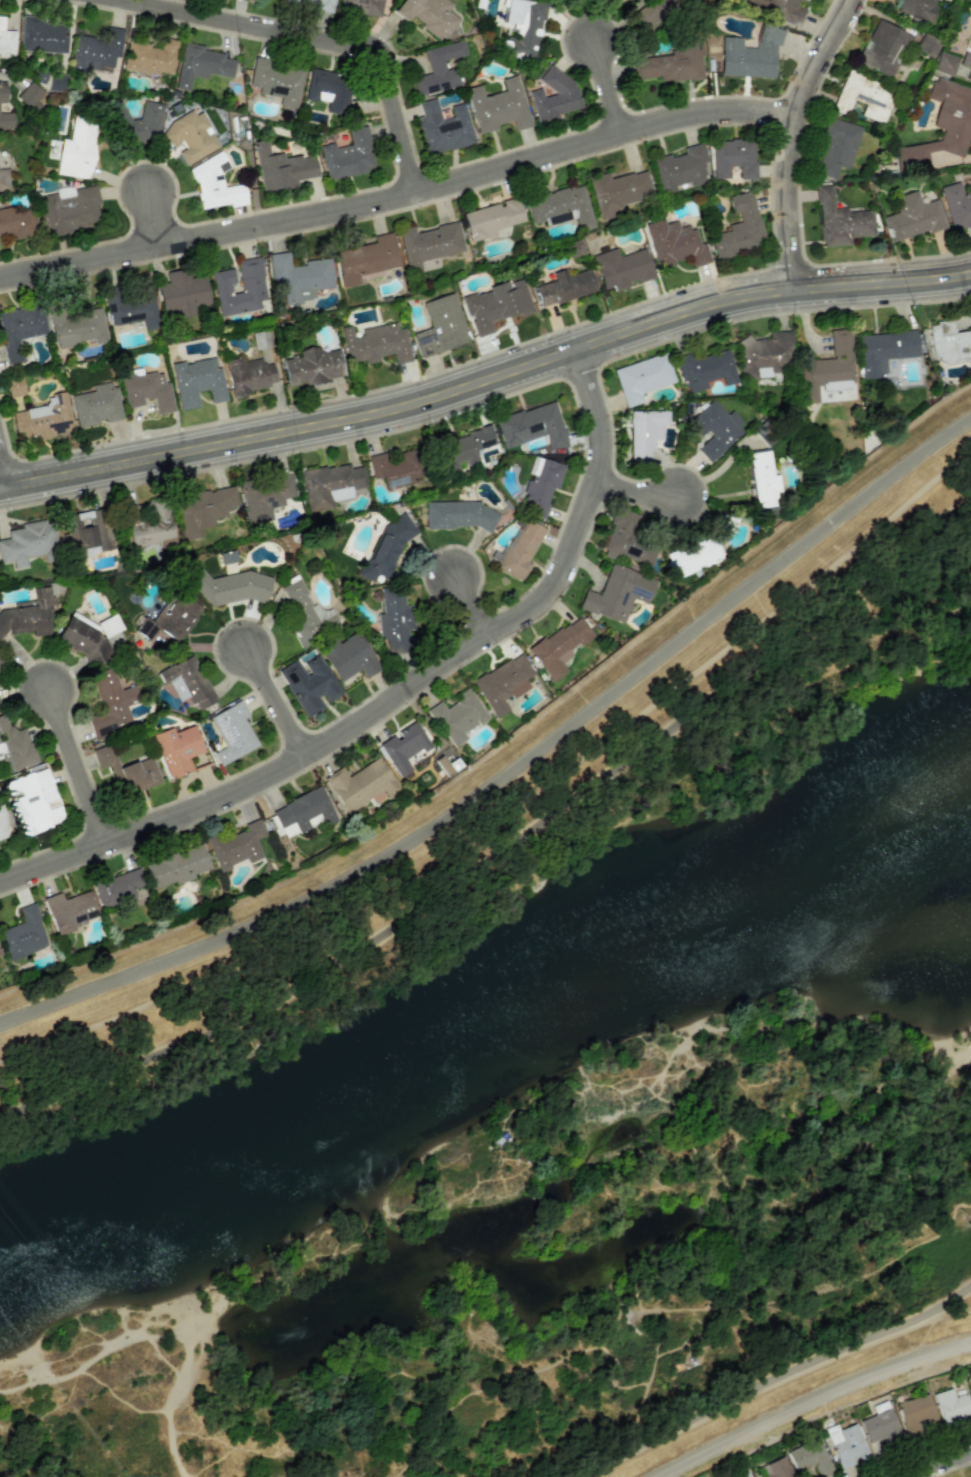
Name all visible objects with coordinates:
building: (313, 3)
building: (362, 6)
building: (918, 8)
building: (777, 9)
building: (658, 11)
building: (428, 15)
building: (524, 25)
building: (970, 28)
building: (41, 35)
building: (6, 40)
road: (338, 40)
building: (927, 46)
building: (883, 49)
building: (96, 52)
building: (751, 54)
building: (150, 57)
building: (672, 63)
building: (946, 64)
building: (967, 64)
building: (201, 65)
building: (437, 70)
building: (277, 81)
road: (613, 82)
building: (328, 90)
building: (2, 92)
building: (29, 96)
building: (554, 96)
building: (863, 96)
building: (498, 107)
building: (5, 121)
building: (135, 121)
building: (942, 127)
building: (443, 128)
building: (190, 136)
road: (796, 136)
building: (837, 147)
building: (76, 149)
building: (348, 155)
building: (733, 158)
building: (281, 168)
building: (679, 169)
building: (969, 175)
building: (4, 180)
building: (215, 183)
building: (618, 191)
road: (402, 198)
building: (956, 206)
building: (560, 207)
building: (68, 209)
road: (165, 217)
building: (913, 217)
building: (491, 219)
building: (840, 220)
building: (17, 223)
building: (739, 228)
building: (428, 244)
building: (675, 244)
building: (366, 259)
building: (622, 268)
building: (299, 277)
building: (564, 287)
building: (253, 288)
building: (185, 294)
building: (496, 304)
building: (131, 308)
building: (441, 326)
building: (77, 327)
building: (20, 329)
building: (949, 343)
building: (376, 344)
building: (884, 350)
building: (765, 355)
building: (312, 366)
building: (828, 366)
building: (706, 369)
building: (250, 375)
building: (642, 378)
road: (486, 381)
building: (197, 382)
building: (15, 386)
building: (147, 390)
building: (96, 405)
building: (43, 419)
building: (532, 426)
building: (715, 429)
building: (645, 433)
building: (464, 448)
road: (5, 465)
building: (395, 467)
building: (763, 480)
building: (330, 485)
building: (541, 487)
road: (641, 490)
building: (265, 497)
building: (203, 509)
building: (457, 515)
building: (152, 527)
building: (87, 533)
building: (629, 540)
building: (386, 549)
building: (520, 551)
building: (694, 555)
building: (231, 587)
building: (618, 594)
road: (475, 605)
building: (307, 613)
building: (28, 616)
building: (171, 618)
building: (395, 618)
building: (83, 641)
building: (560, 646)
building: (349, 657)
building: (0, 671)
building: (187, 682)
building: (503, 683)
building: (309, 684)
road: (401, 697)
building: (110, 703)
road: (280, 703)
building: (458, 717)
building: (232, 733)
building: (14, 747)
building: (405, 747)
building: (177, 749)
road: (87, 766)
building: (127, 770)
road: (515, 770)
building: (361, 785)
building: (33, 802)
building: (302, 813)
building: (3, 824)
building: (237, 845)
road: (505, 846)
building: (176, 867)
building: (118, 887)
building: (70, 911)
building: (24, 934)
building: (0, 955)
river: (490, 1066)
road: (773, 1379)
building: (970, 1379)
road: (817, 1405)
building: (952, 1408)
building: (917, 1414)
building: (881, 1427)
building: (847, 1445)
building: (810, 1458)
road: (937, 1465)
building: (775, 1469)
building: (742, 1472)

